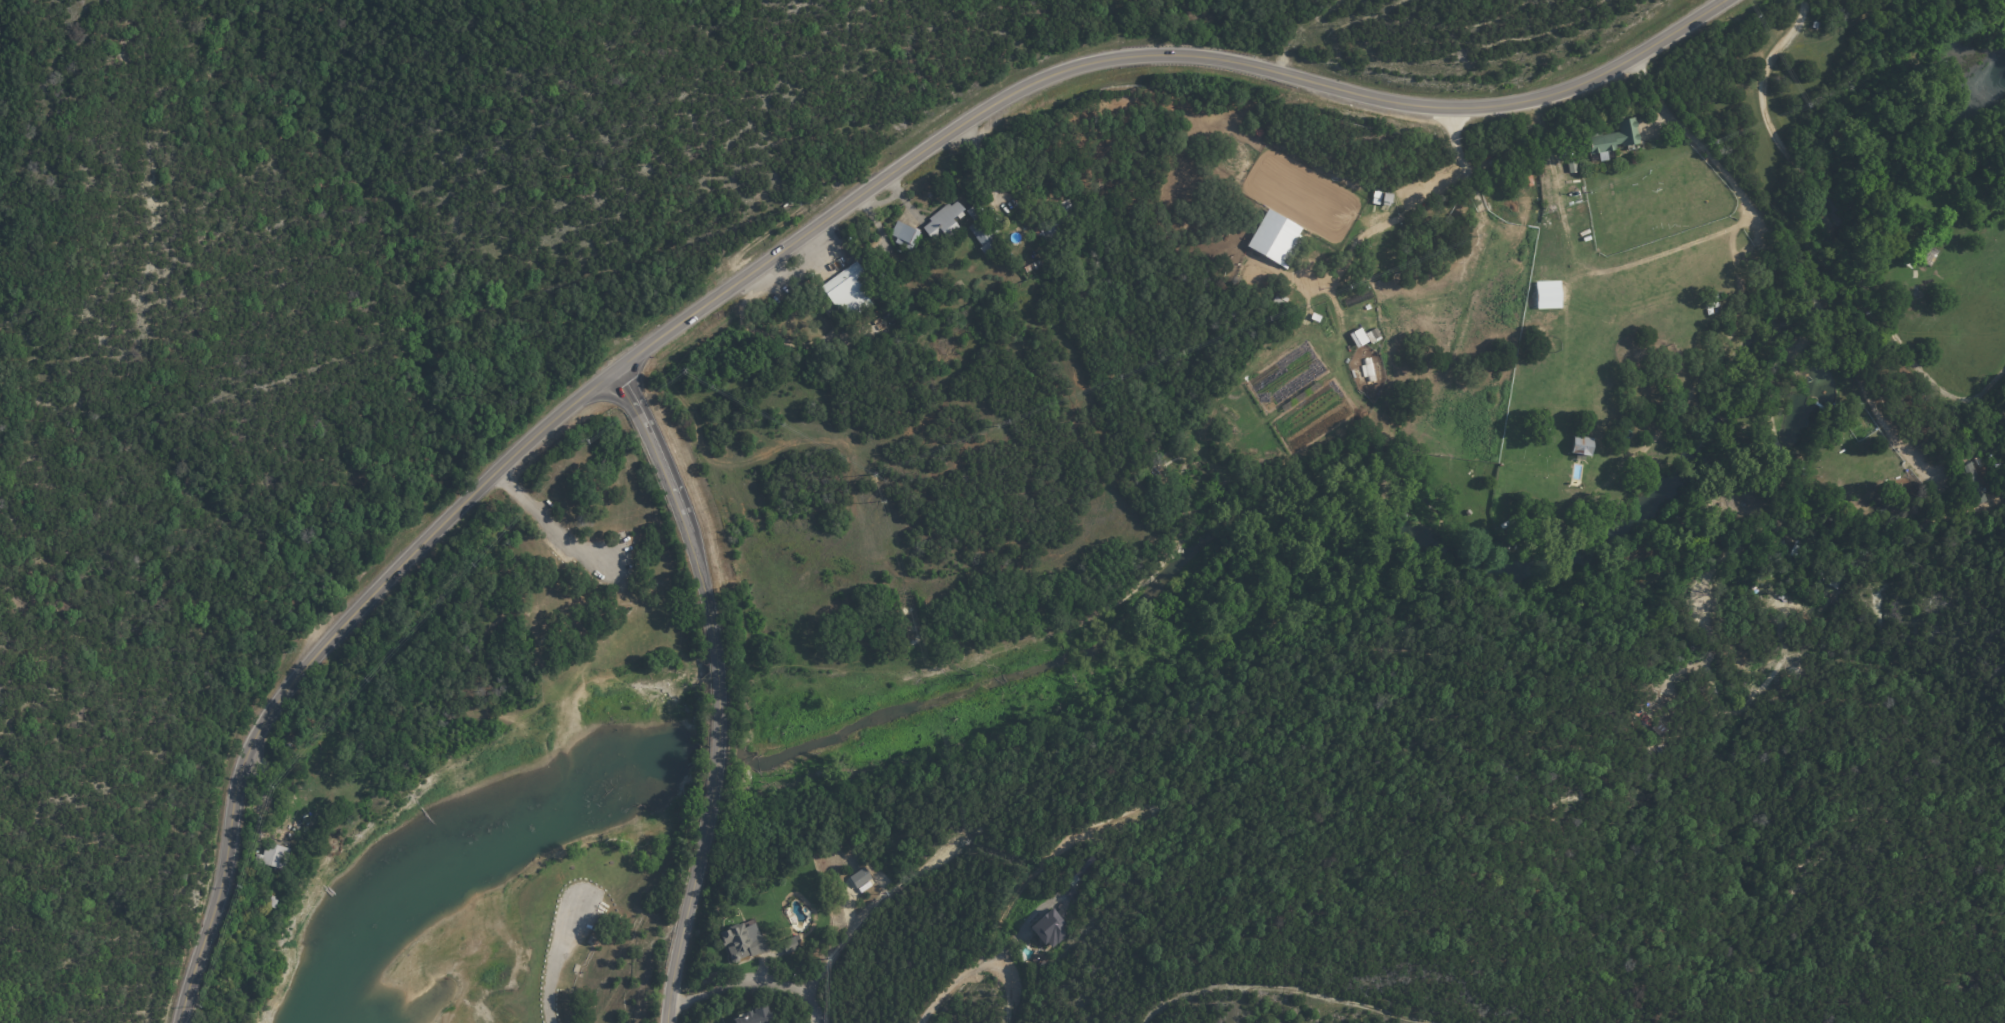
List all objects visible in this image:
building: (1817, 26)
road: (1310, 35)
building: (1614, 137)
building: (1495, 161)
building: (973, 213)
building: (944, 221)
building: (1056, 223)
building: (996, 226)
building: (905, 233)
road: (1835, 235)
building: (983, 237)
building: (1275, 238)
road: (785, 249)
road: (1782, 250)
building: (1931, 256)
building: (1039, 263)
building: (888, 279)
building: (1307, 290)
building: (848, 292)
building: (880, 293)
building: (1717, 296)
building: (1697, 303)
building: (1719, 306)
building: (876, 312)
building: (809, 319)
building: (1357, 337)
road: (1704, 376)
building: (1583, 446)
building: (1984, 462)
building: (1968, 477)
park: (494, 651)
road: (719, 688)
building: (272, 857)
building: (1087, 869)
building: (859, 877)
building: (1073, 894)
park: (608, 913)
building: (1051, 930)
building: (742, 940)
building: (790, 944)
road: (832, 955)
building: (1043, 965)
road: (961, 979)
road: (754, 980)
road: (817, 1010)
building: (756, 1015)

